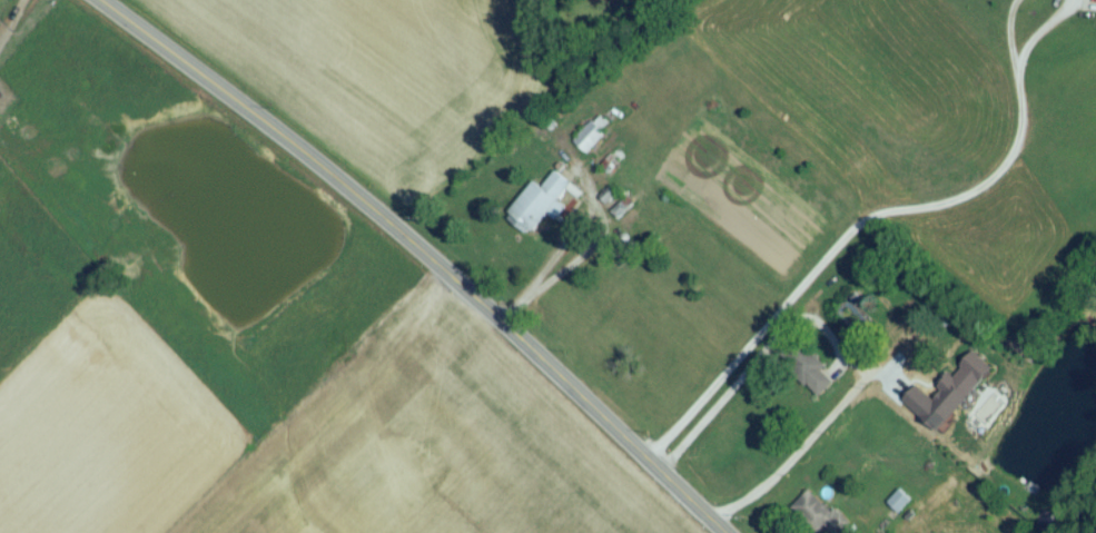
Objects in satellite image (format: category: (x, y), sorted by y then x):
road: (1039, 31)
road: (1009, 36)
building: (591, 139)
building: (608, 169)
building: (540, 207)
building: (616, 210)
road: (603, 234)
road: (838, 244)
road: (415, 254)
road: (748, 372)
building: (810, 378)
building: (955, 397)
road: (816, 432)
building: (898, 507)

